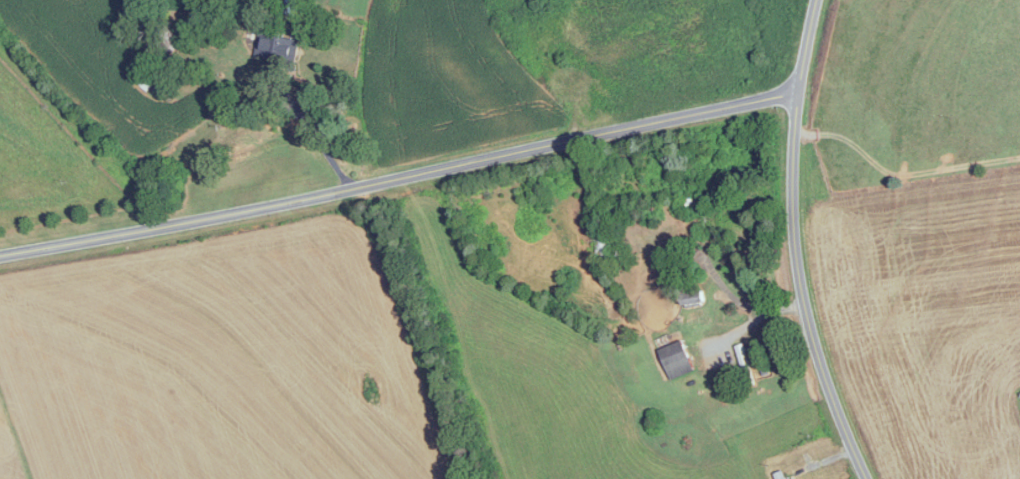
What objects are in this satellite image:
building: (274, 48)
road: (314, 136)
road: (902, 170)
road: (399, 176)
building: (692, 203)
road: (795, 244)
building: (691, 297)
road: (735, 297)
road: (751, 319)
building: (675, 360)
building: (744, 365)
building: (779, 475)
building: (792, 478)

